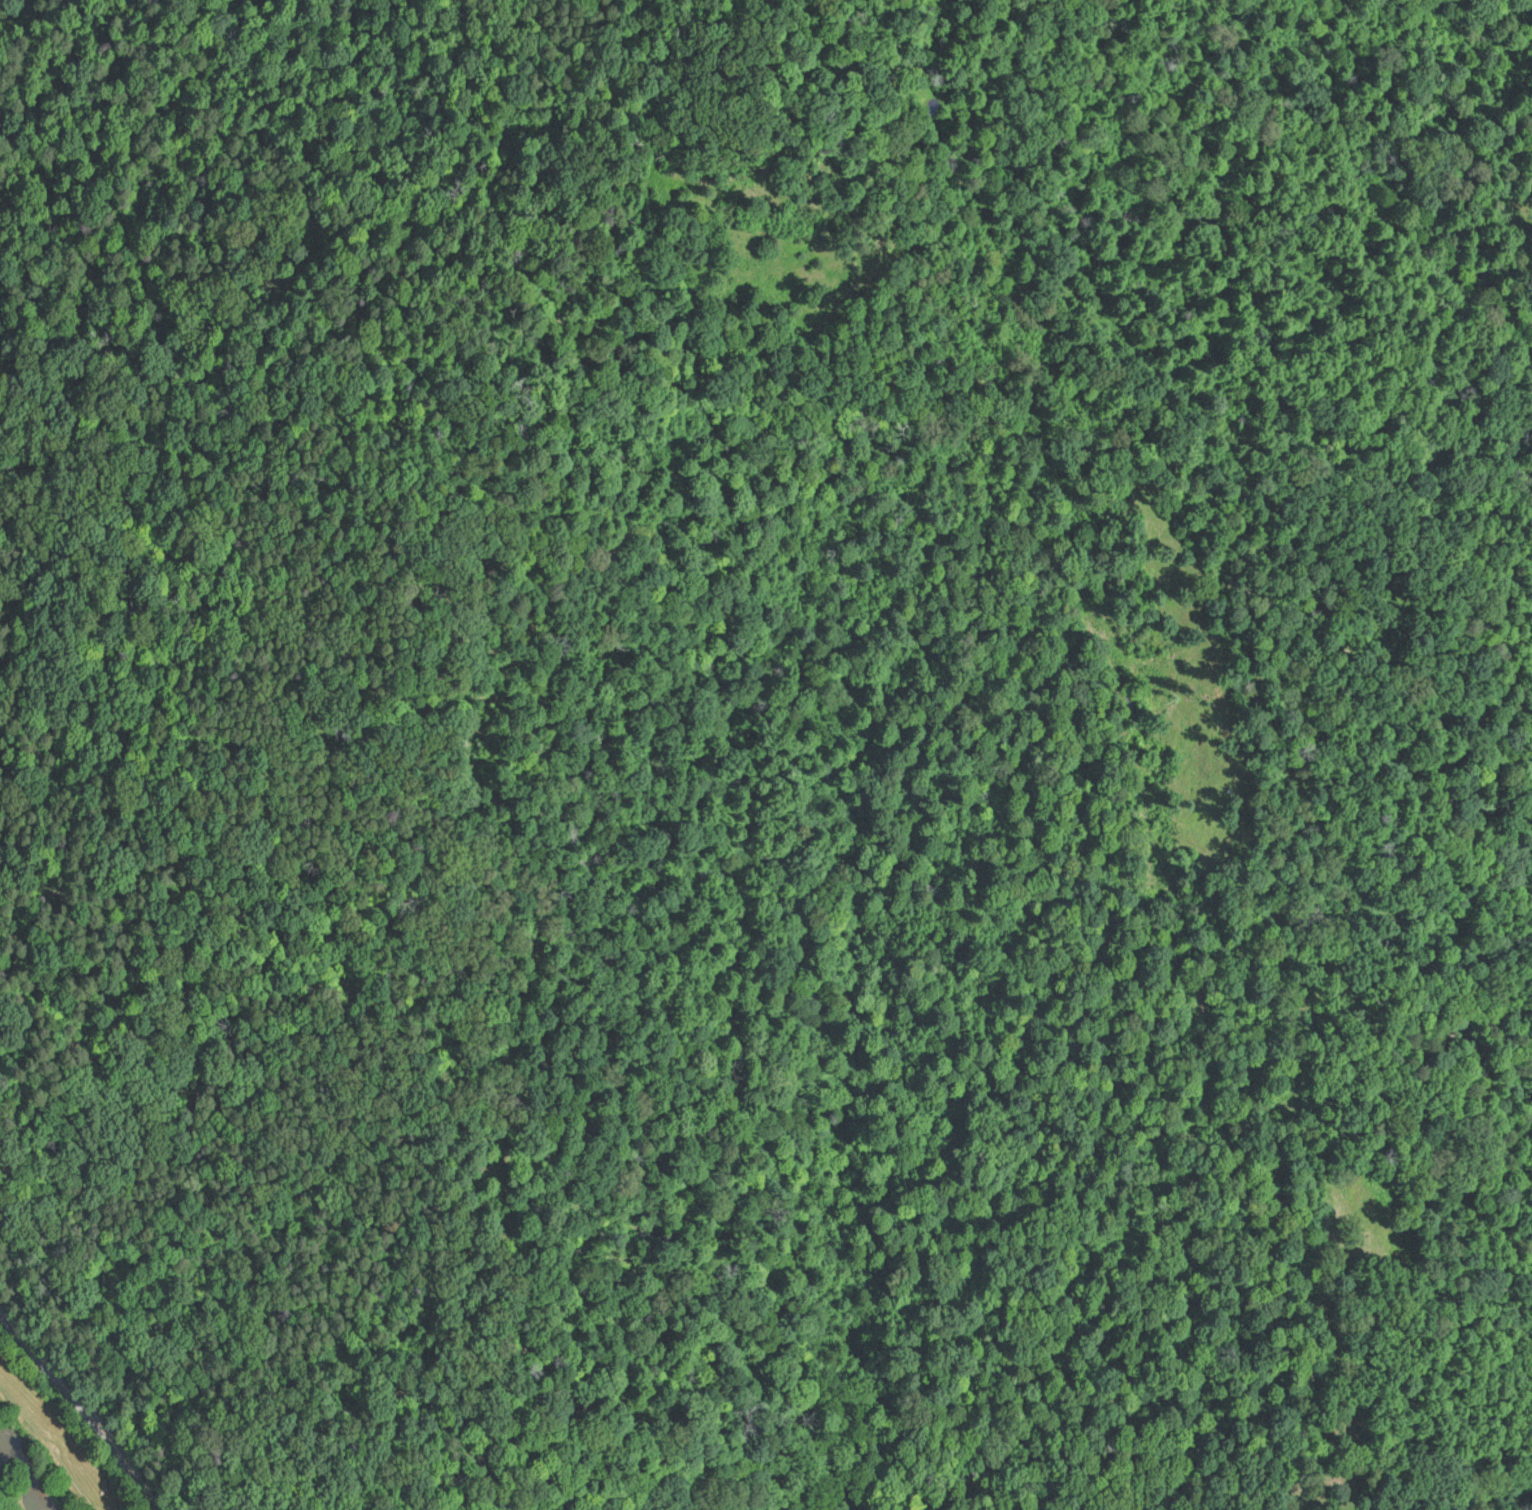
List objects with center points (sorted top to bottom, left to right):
road: (81, 1405)

